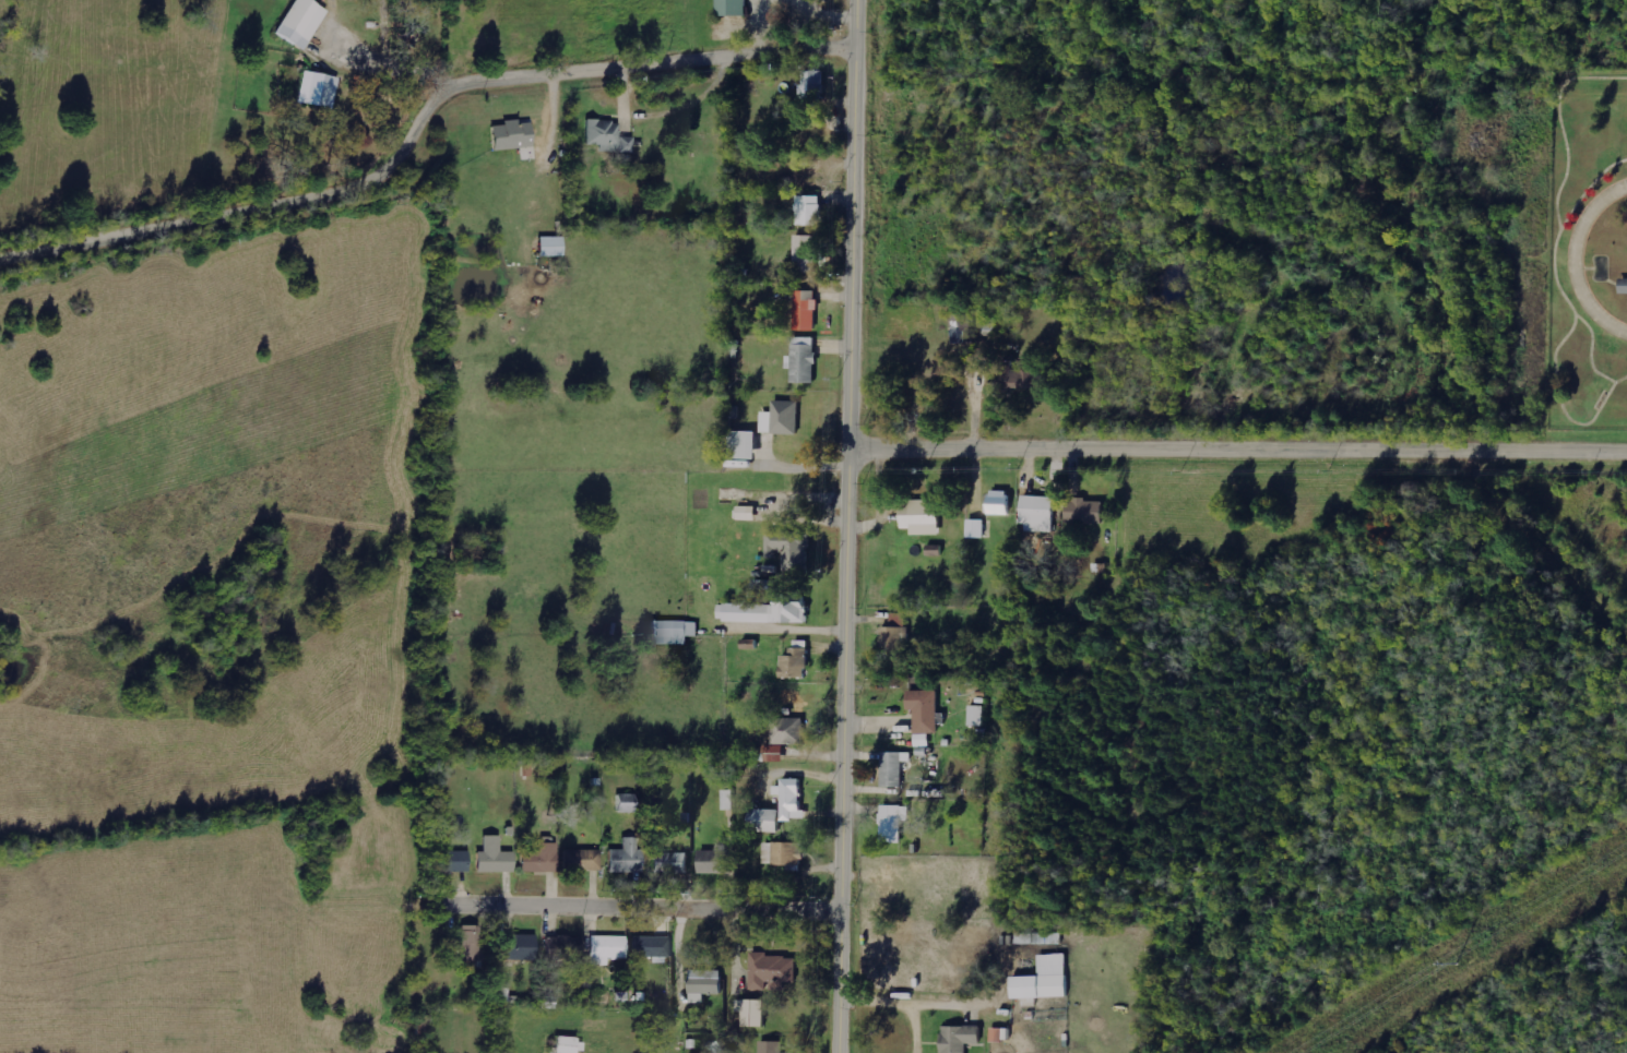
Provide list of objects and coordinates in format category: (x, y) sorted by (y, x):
building: (734, 8)
building: (304, 22)
road: (852, 24)
building: (813, 85)
building: (320, 89)
road: (423, 129)
building: (609, 136)
building: (516, 139)
building: (810, 210)
building: (554, 247)
building: (807, 253)
road: (1572, 258)
building: (1622, 285)
building: (807, 310)
building: (963, 327)
building: (805, 359)
building: (1023, 378)
building: (783, 418)
building: (746, 445)
road: (1237, 454)
building: (1000, 502)
building: (1086, 512)
building: (749, 513)
building: (1041, 514)
building: (924, 517)
building: (976, 528)
building: (792, 549)
road: (845, 551)
building: (770, 611)
building: (675, 632)
building: (895, 632)
building: (798, 660)
building: (926, 709)
building: (976, 716)
building: (789, 731)
building: (776, 753)
building: (894, 768)
building: (729, 800)
building: (794, 802)
building: (628, 803)
building: (894, 823)
building: (783, 853)
building: (496, 858)
building: (542, 859)
building: (627, 859)
building: (583, 861)
building: (453, 862)
building: (714, 862)
building: (672, 863)
road: (636, 910)
building: (1038, 938)
building: (472, 947)
building: (523, 947)
building: (565, 947)
building: (652, 947)
building: (607, 949)
building: (772, 969)
building: (1046, 979)
building: (706, 984)
building: (752, 1012)
building: (1001, 1036)
building: (962, 1038)
building: (571, 1045)
building: (771, 1046)

